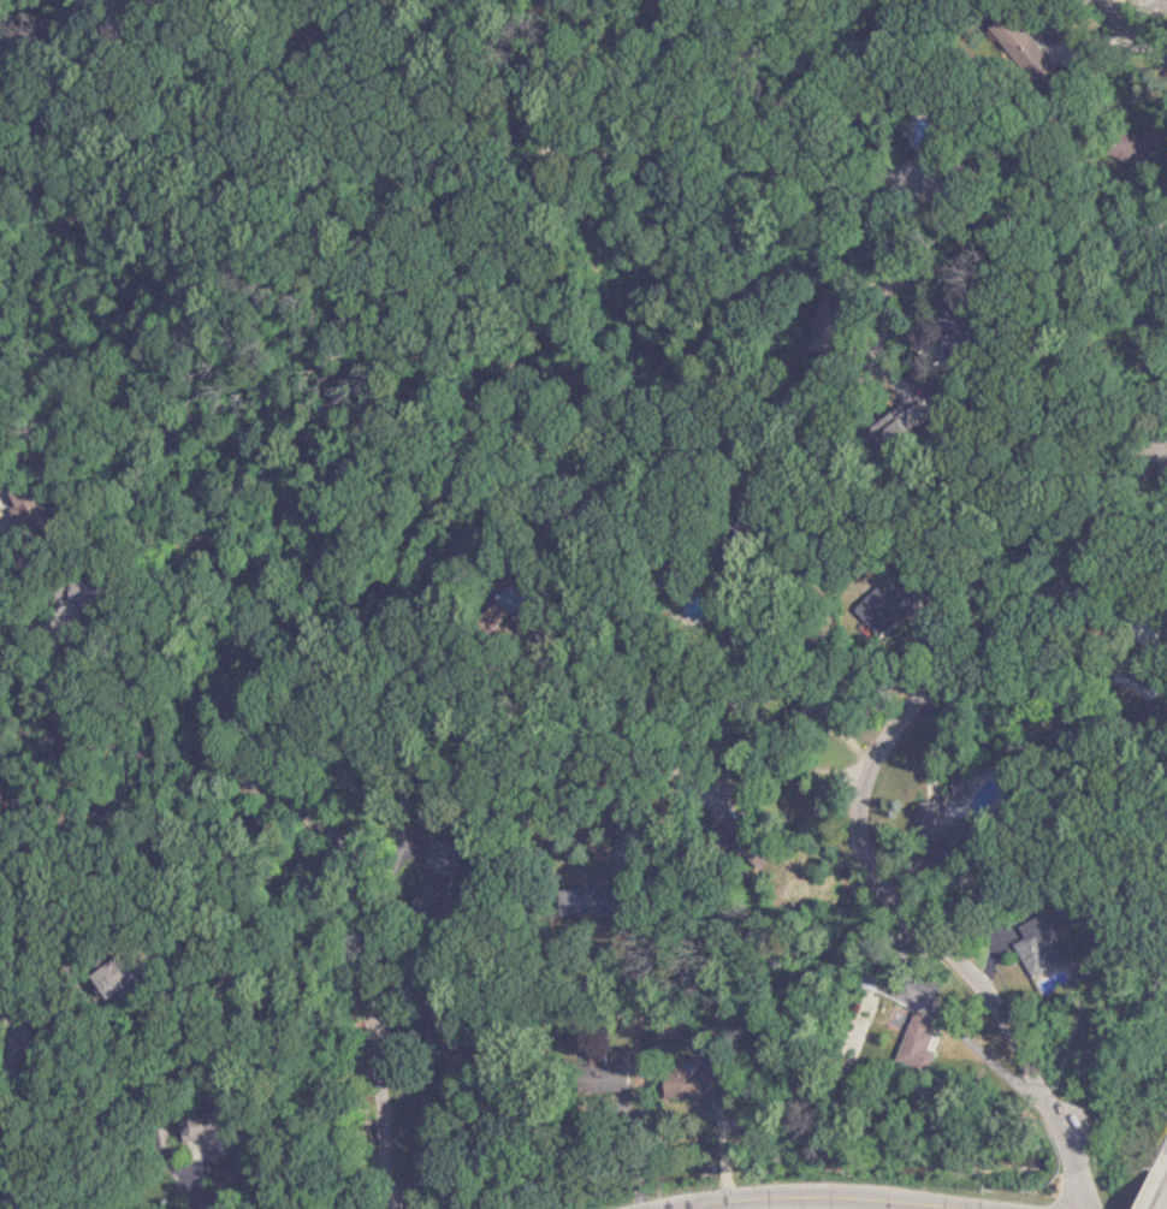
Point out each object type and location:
road: (302, 0)
road: (1085, 2)
road: (1120, 35)
road: (816, 64)
building: (1125, 147)
road: (582, 167)
road: (889, 310)
road: (665, 565)
road: (37, 627)
road: (682, 782)
road: (852, 790)
building: (947, 829)
road: (328, 857)
building: (1029, 944)
building: (102, 974)
road: (20, 1032)
building: (905, 1039)
road: (13, 1050)
building: (683, 1080)
building: (192, 1131)
road: (1160, 1195)
road: (788, 1208)

